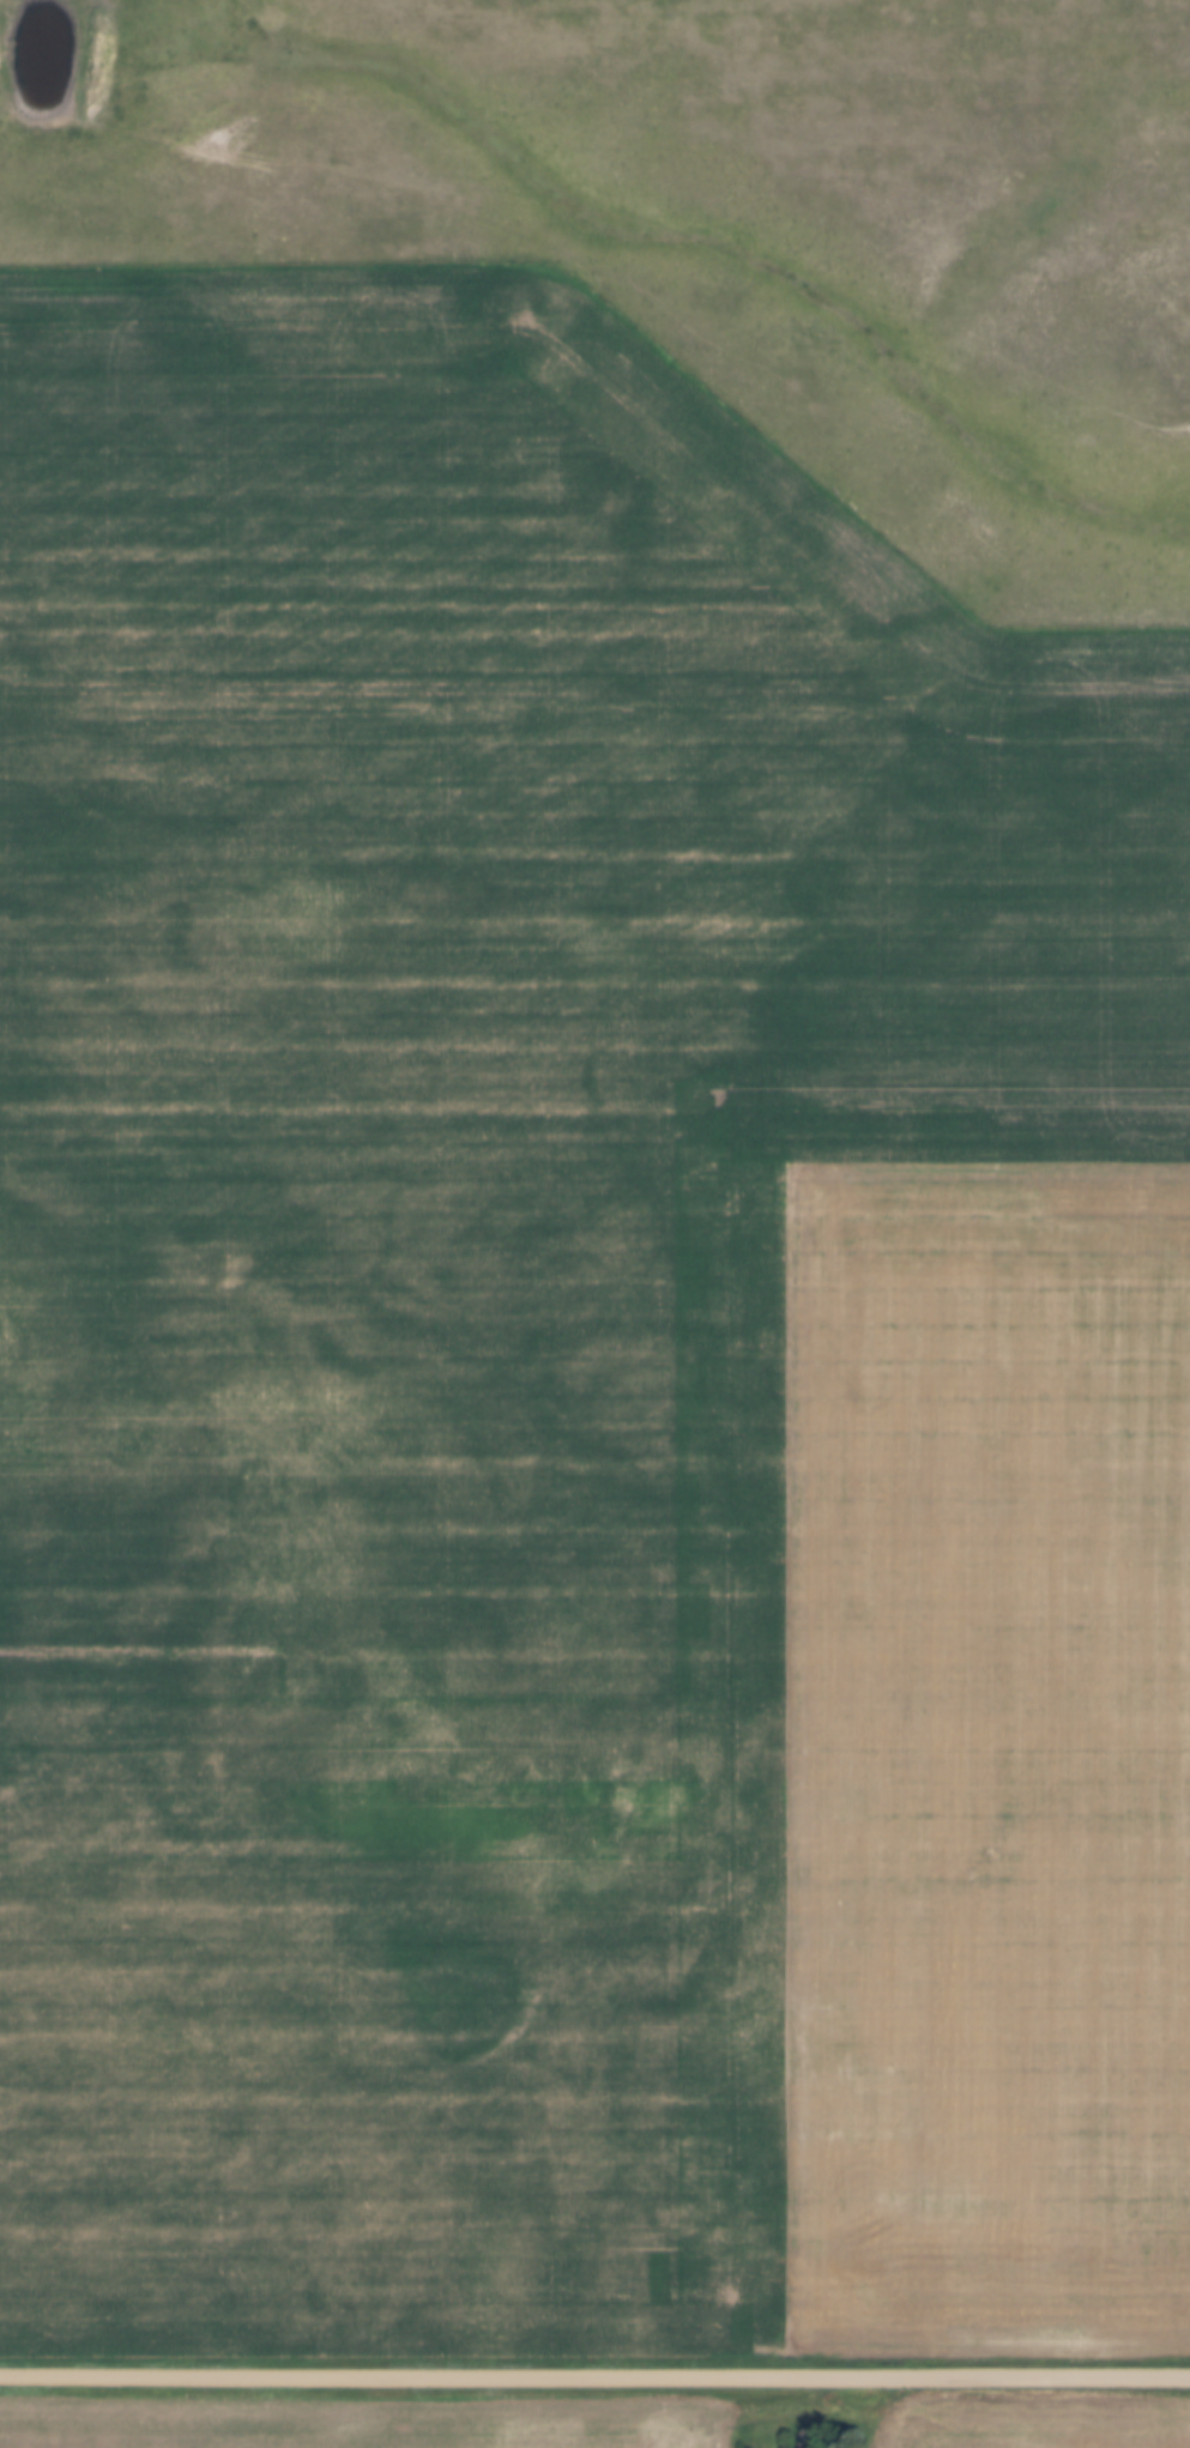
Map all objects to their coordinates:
road: (594, 2375)

